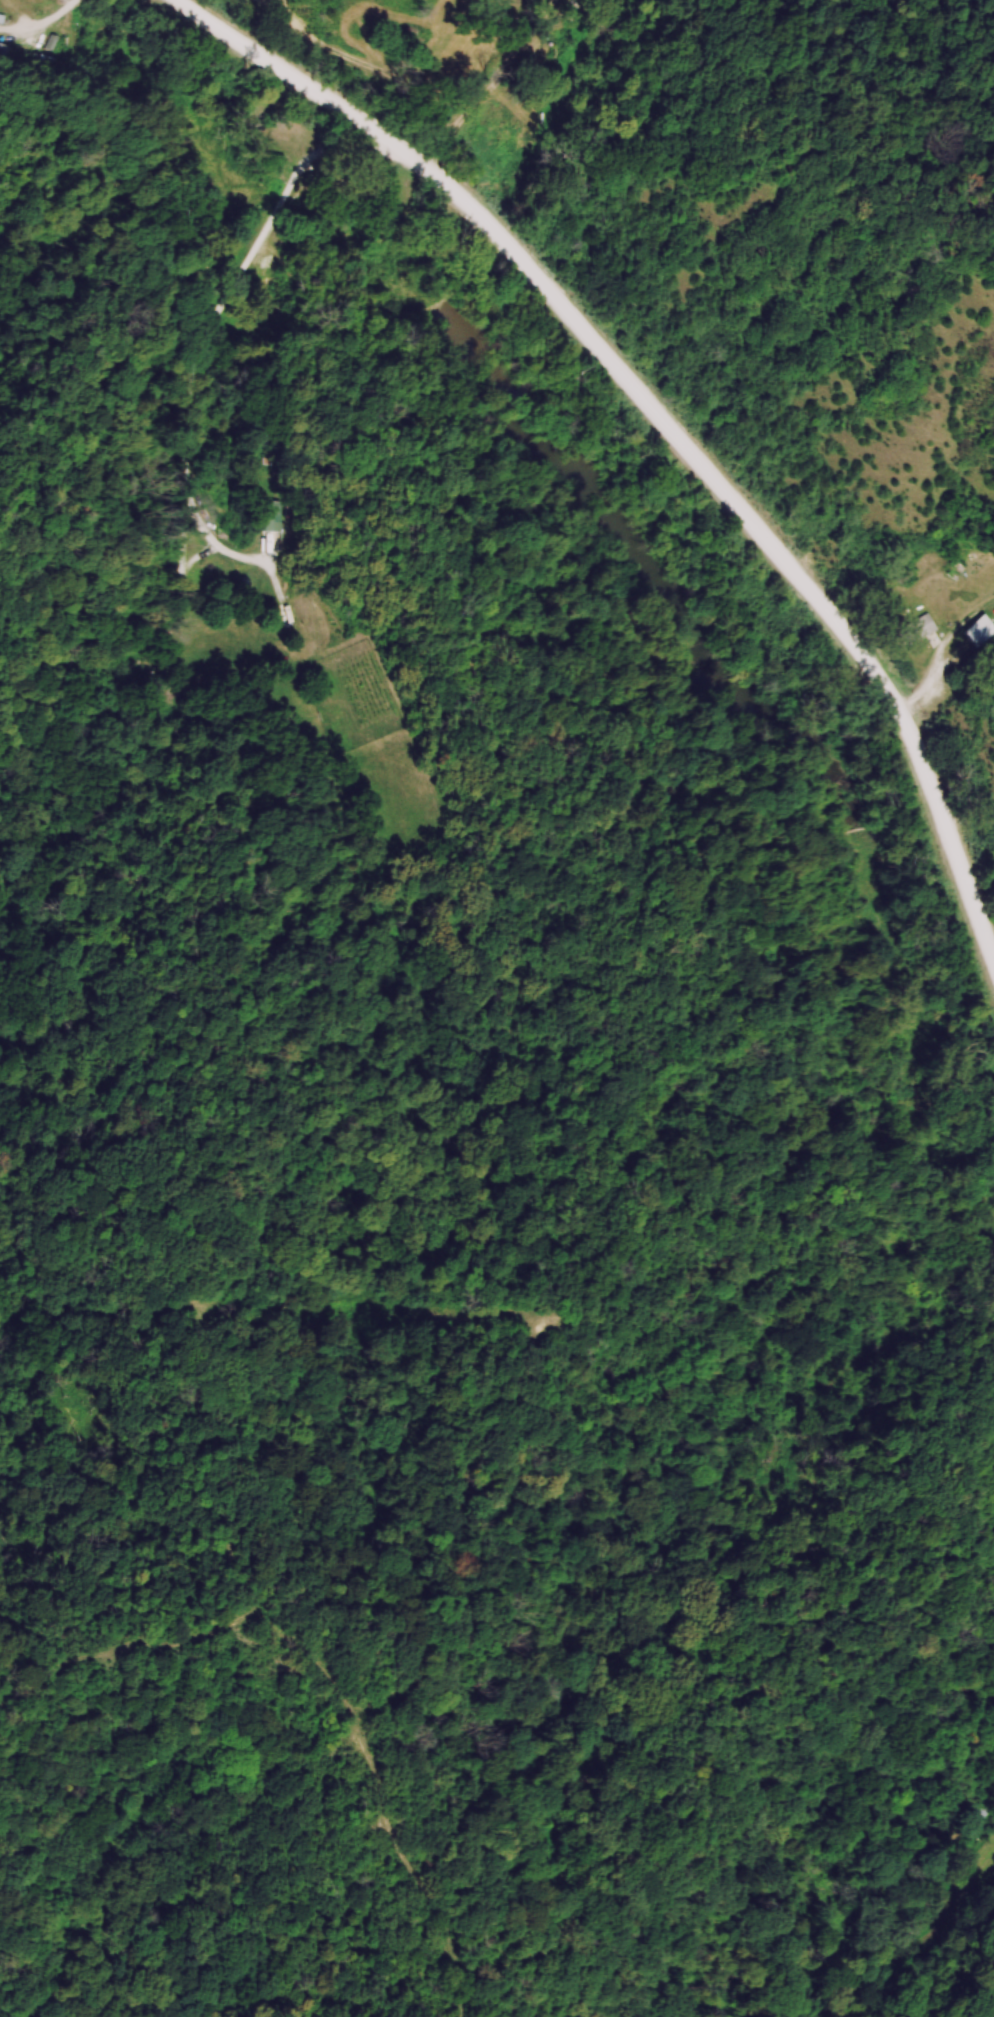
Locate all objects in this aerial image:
road: (42, 21)
road: (229, 300)
road: (666, 417)

